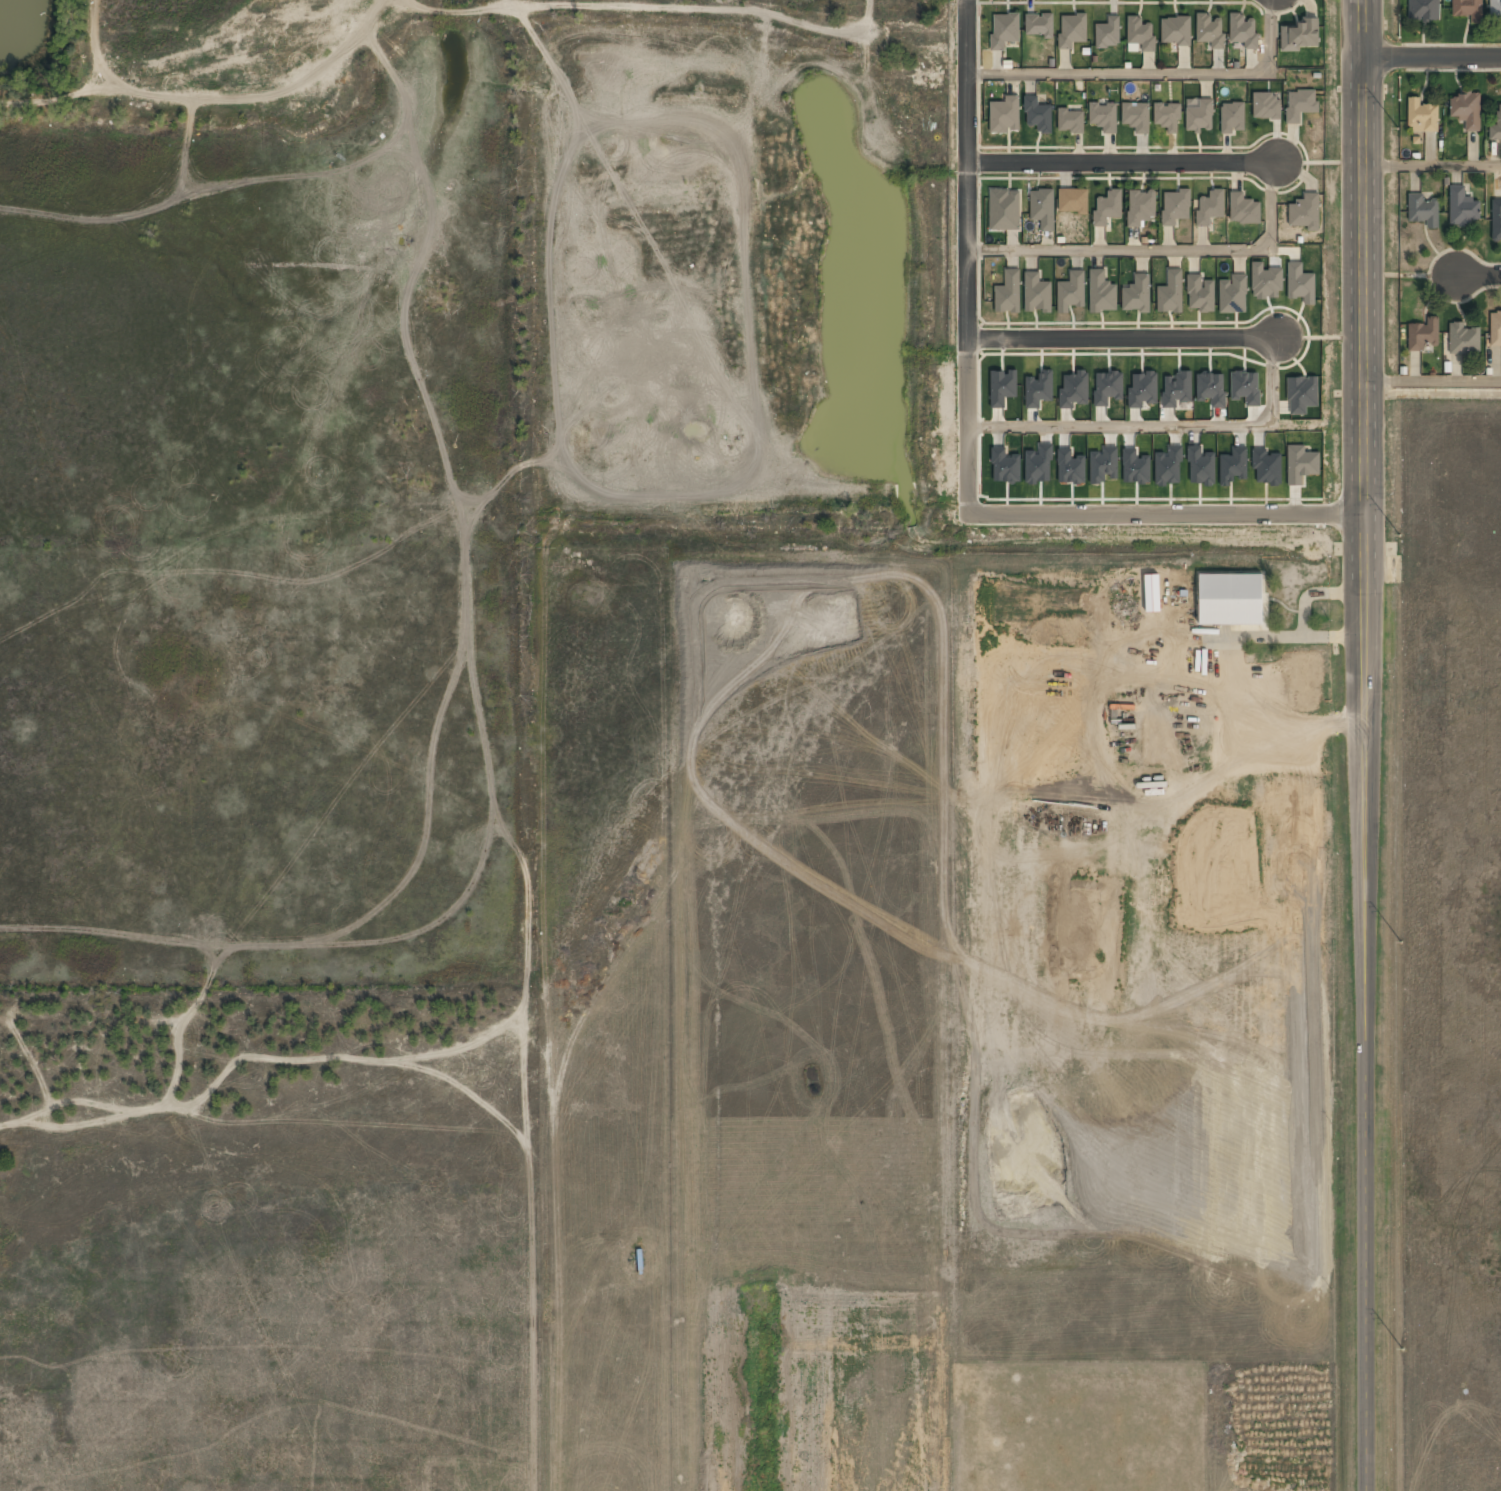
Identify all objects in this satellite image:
road: (465, 10)
building: (1469, 10)
building: (1424, 11)
building: (1496, 11)
building: (1039, 24)
building: (1072, 29)
building: (1004, 30)
building: (1175, 30)
building: (1209, 30)
building: (1242, 30)
building: (1108, 32)
building: (1140, 33)
building: (1301, 36)
road: (1430, 57)
road: (1154, 73)
building: (1300, 104)
building: (1266, 105)
building: (1466, 111)
building: (1037, 114)
building: (1198, 114)
building: (1004, 115)
building: (1103, 116)
building: (1135, 116)
building: (1167, 116)
building: (1232, 117)
building: (1422, 117)
building: (1070, 120)
building: (1496, 126)
power tower: (1398, 130)
road: (1120, 163)
road: (1431, 166)
building: (1072, 200)
building: (1042, 208)
building: (1108, 208)
building: (1141, 208)
building: (1175, 208)
building: (1210, 208)
building: (1004, 209)
building: (1463, 209)
building: (1243, 210)
building: (1423, 211)
building: (1304, 214)
building: (1496, 220)
road: (1361, 251)
road: (1163, 252)
road: (966, 254)
road: (1480, 275)
building: (1300, 283)
building: (1071, 291)
building: (1101, 292)
building: (1008, 293)
building: (1036, 293)
building: (1171, 293)
building: (1200, 293)
building: (1138, 295)
building: (1233, 296)
building: (1496, 329)
building: (1424, 335)
building: (1464, 340)
road: (1121, 342)
road: (1449, 380)
building: (1002, 387)
building: (1107, 387)
building: (1245, 387)
building: (1210, 388)
building: (1038, 389)
building: (1142, 389)
building: (1176, 389)
building: (1074, 390)
road: (1165, 506)
power tower: (1400, 536)
building: (1230, 600)
power tower: (1402, 942)
road: (1365, 997)
power tower: (1403, 1349)

